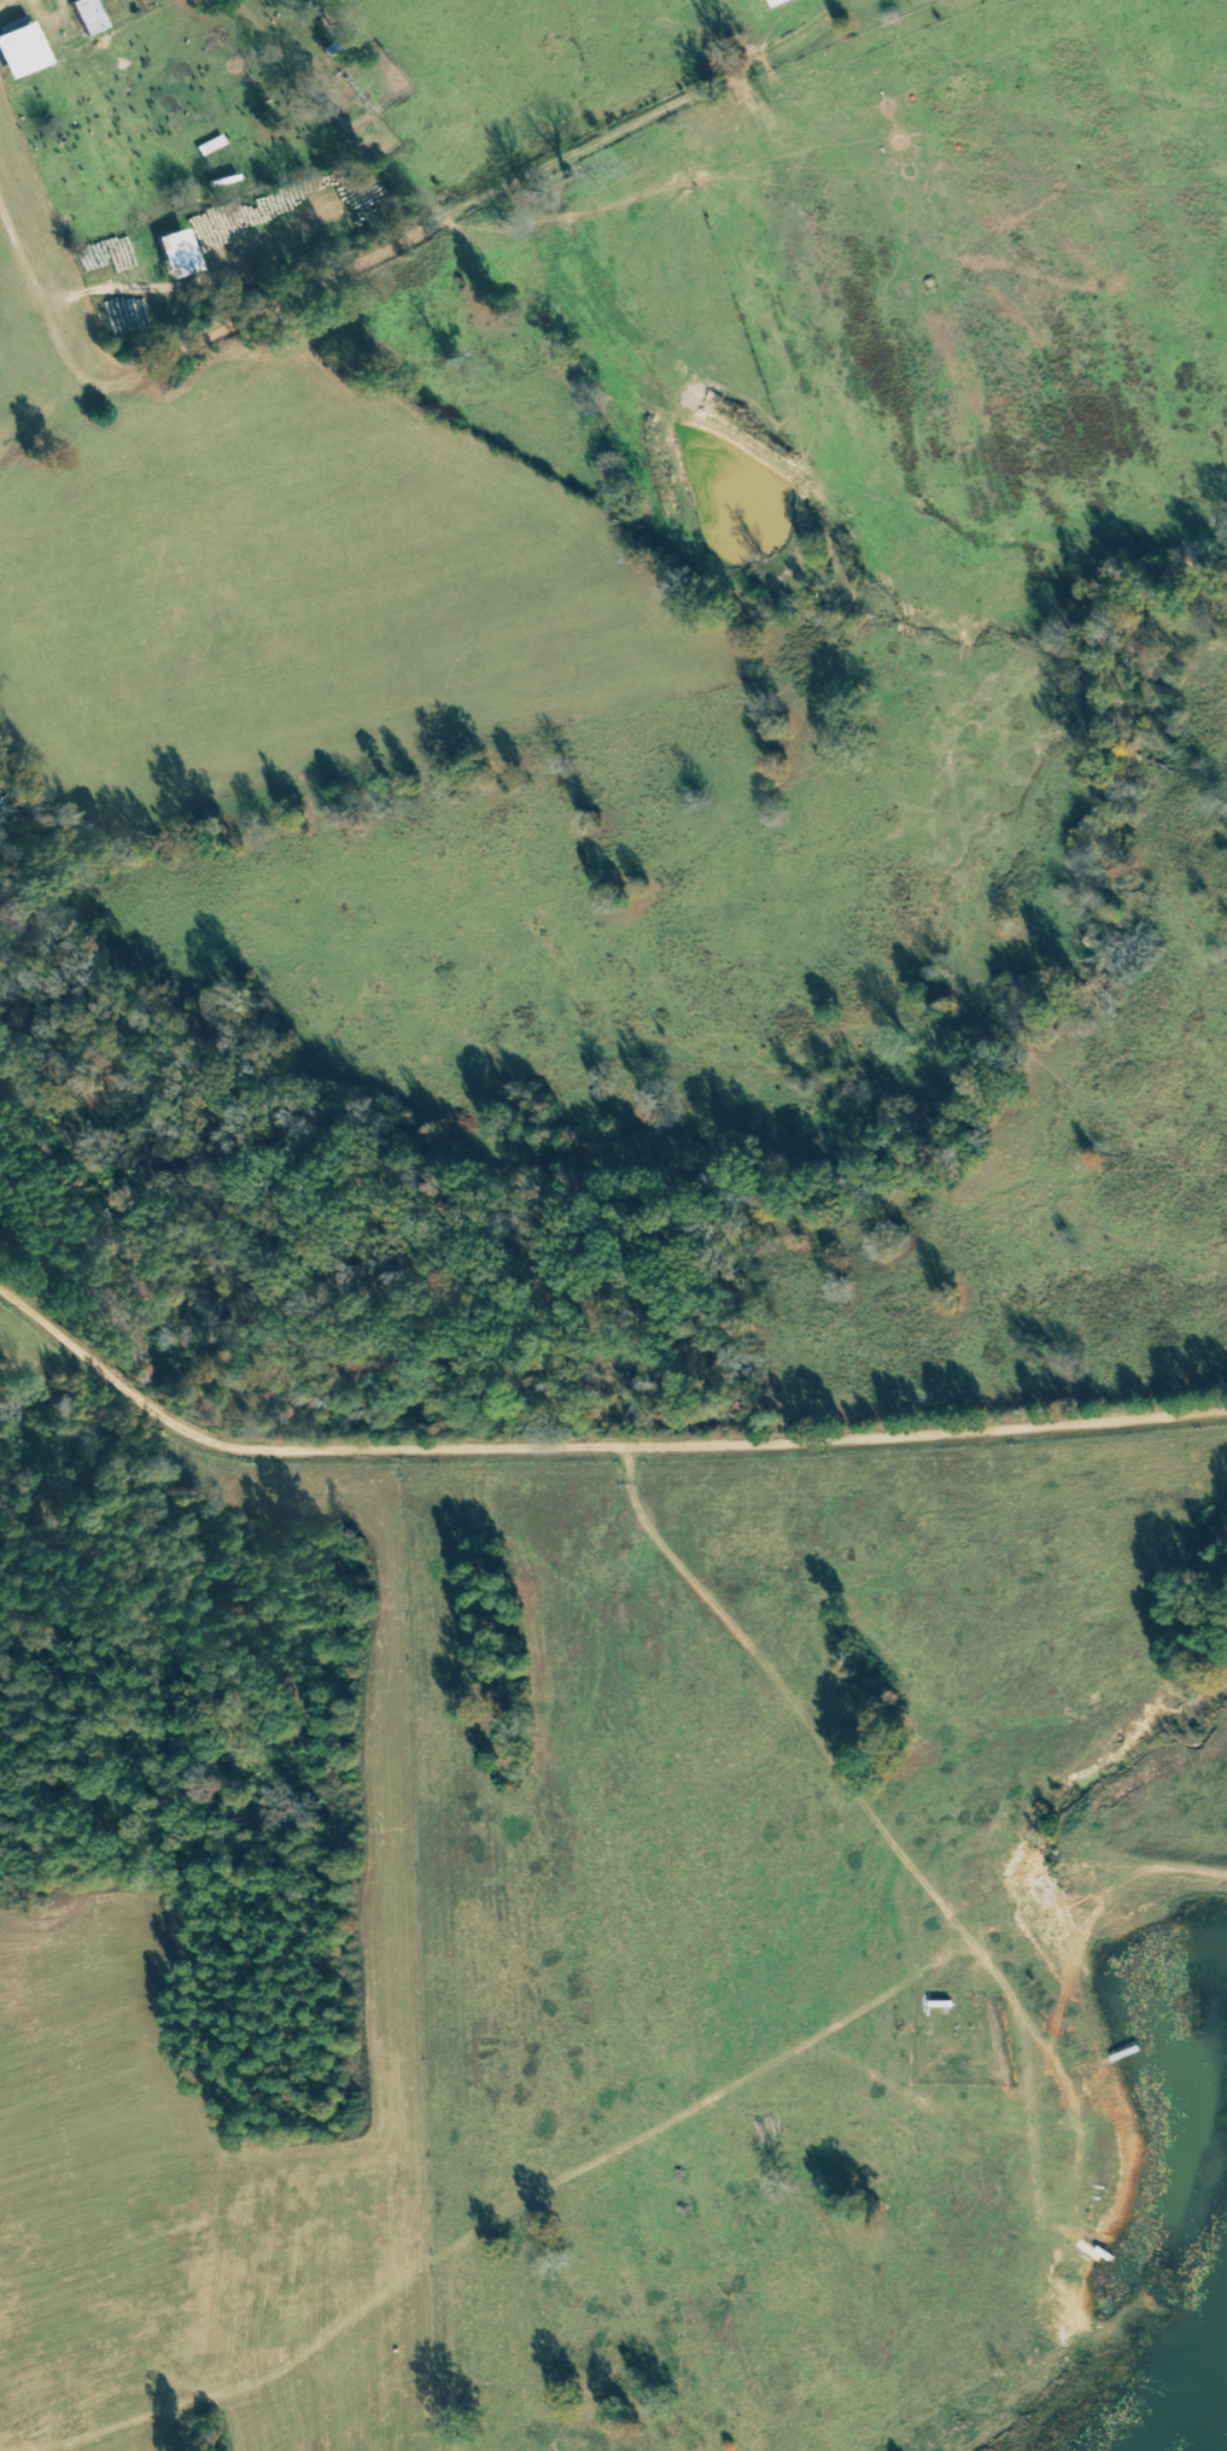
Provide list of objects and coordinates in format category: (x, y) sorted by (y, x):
building: (779, 2)
building: (83, 14)
building: (22, 49)
building: (180, 253)
road: (586, 1446)
road: (754, 2065)

